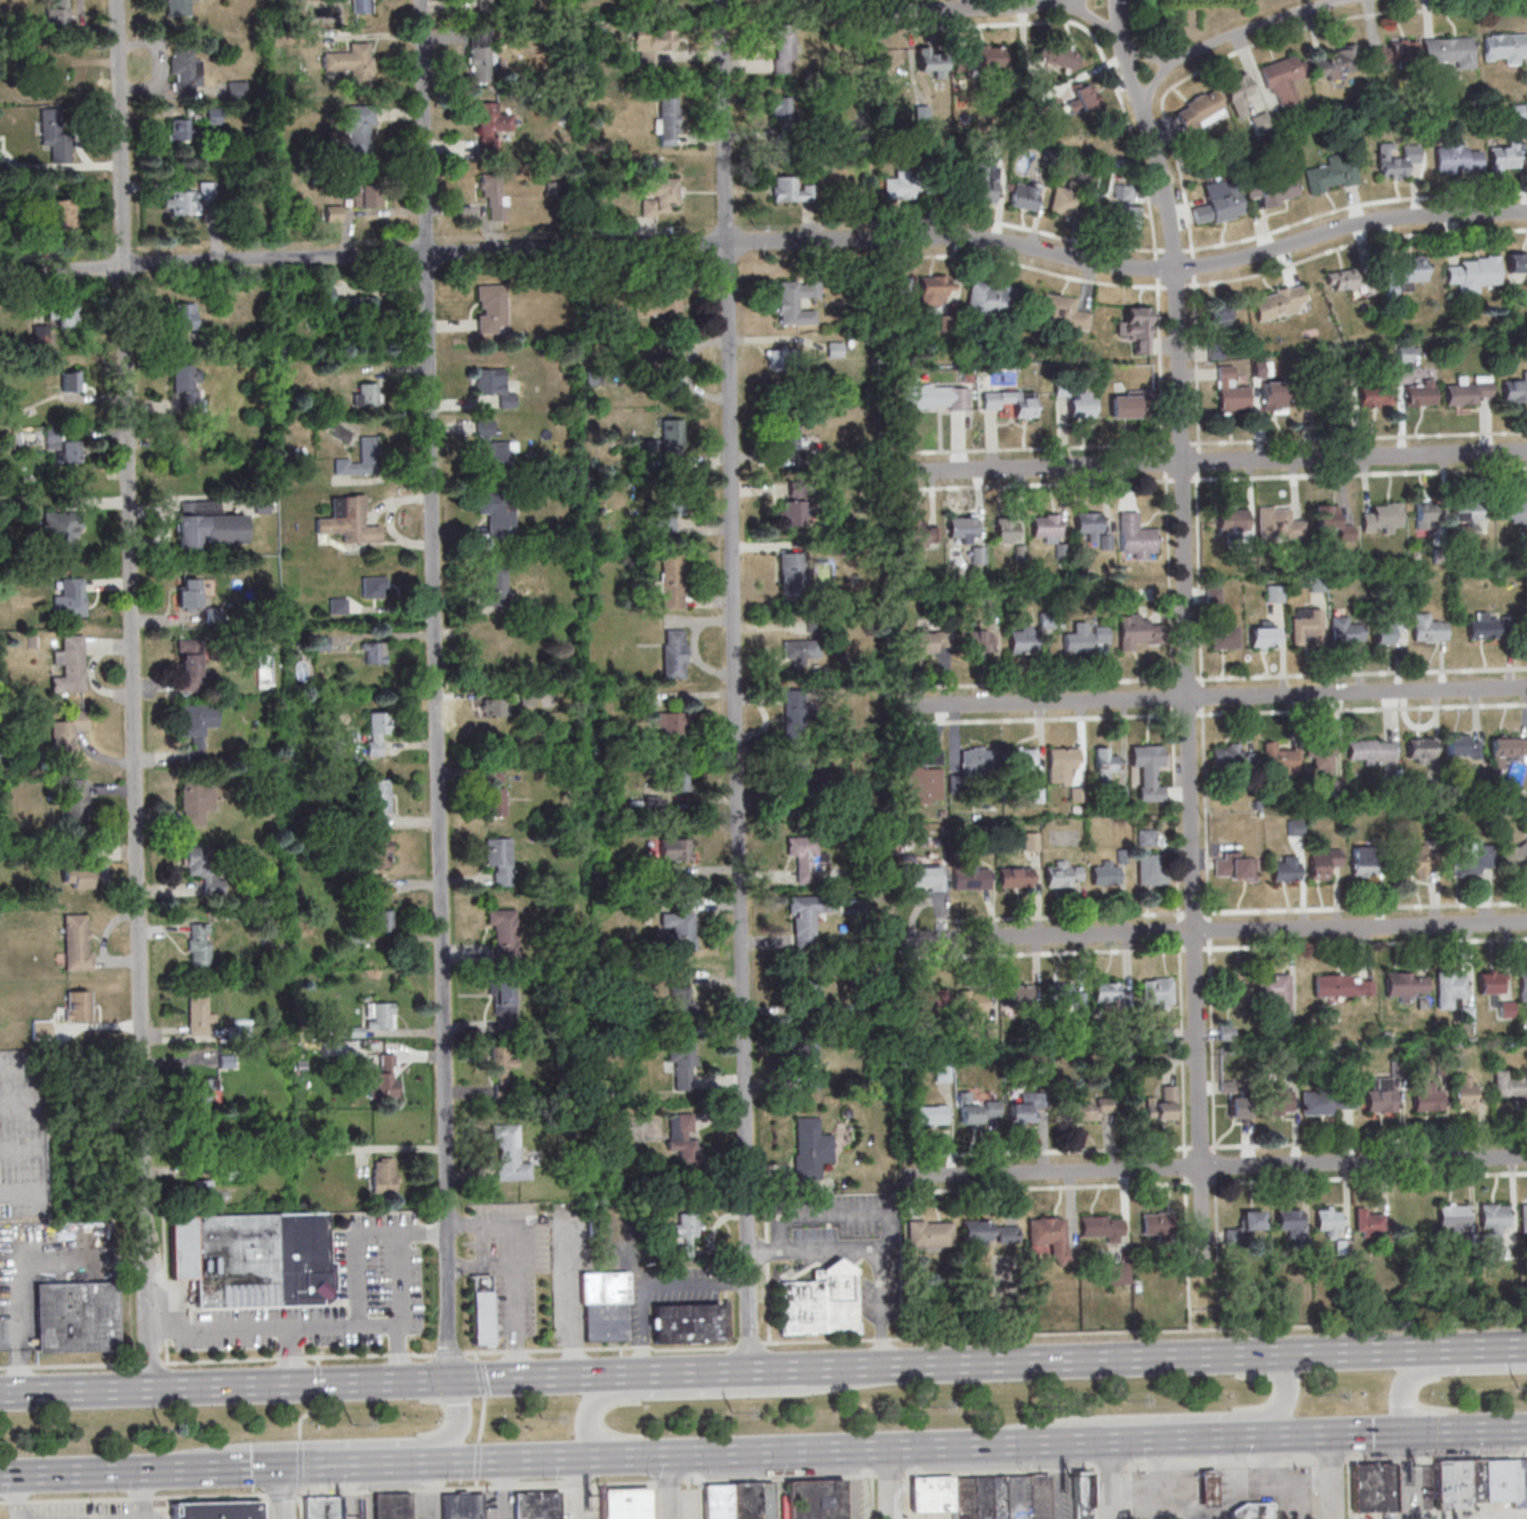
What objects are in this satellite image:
building: (362, 4)
road: (1004, 7)
building: (178, 8)
building: (58, 13)
road: (1229, 36)
building: (654, 45)
building: (1504, 47)
building: (784, 49)
building: (1449, 51)
building: (482, 54)
building: (1394, 54)
building: (1054, 55)
building: (989, 56)
building: (352, 61)
building: (932, 62)
building: (1335, 64)
building: (182, 69)
building: (59, 76)
building: (1283, 79)
building: (1238, 93)
building: (1083, 98)
building: (781, 108)
building: (1200, 109)
building: (1517, 113)
building: (667, 122)
building: (494, 126)
building: (179, 129)
building: (358, 132)
building: (58, 143)
building: (1503, 156)
building: (1458, 158)
building: (1396, 161)
building: (1332, 173)
building: (985, 185)
building: (900, 186)
building: (1273, 188)
building: (792, 190)
building: (362, 192)
building: (1123, 192)
building: (658, 195)
building: (1025, 195)
building: (495, 196)
building: (186, 199)
building: (1064, 200)
building: (1218, 203)
building: (62, 209)
building: (330, 212)
building: (1125, 216)
road: (767, 240)
building: (1516, 263)
building: (1413, 268)
building: (1472, 273)
building: (1342, 279)
building: (935, 289)
building: (901, 293)
building: (989, 299)
building: (795, 301)
building: (1277, 302)
building: (657, 303)
building: (491, 309)
building: (1063, 312)
building: (1219, 314)
building: (184, 315)
building: (61, 325)
building: (1137, 329)
building: (835, 349)
building: (786, 359)
building: (672, 375)
building: (71, 381)
building: (188, 384)
building: (494, 385)
building: (1515, 389)
building: (1468, 390)
building: (1230, 391)
building: (1419, 393)
building: (366, 394)
building: (1328, 395)
building: (1273, 396)
building: (932, 397)
building: (1374, 397)
building: (1011, 402)
building: (1081, 403)
building: (1125, 404)
building: (672, 436)
building: (790, 438)
building: (491, 446)
building: (67, 448)
building: (361, 458)
building: (192, 460)
road: (1211, 462)
building: (1466, 511)
building: (1513, 511)
building: (792, 513)
building: (496, 514)
building: (671, 514)
building: (1426, 515)
building: (1242, 518)
building: (1382, 518)
building: (1329, 519)
building: (349, 520)
building: (1278, 523)
building: (209, 524)
building: (1088, 525)
building: (1046, 526)
building: (962, 529)
building: (1006, 530)
building: (62, 532)
building: (918, 534)
building: (1136, 537)
building: (792, 574)
road: (1184, 579)
building: (672, 582)
building: (1317, 583)
building: (374, 586)
building: (495, 586)
building: (190, 592)
building: (1274, 593)
building: (1213, 594)
building: (71, 598)
building: (1305, 625)
building: (1482, 626)
building: (1427, 628)
building: (1384, 629)
building: (1344, 630)
building: (1137, 631)
building: (1084, 636)
building: (1265, 636)
building: (1223, 637)
building: (1023, 640)
building: (980, 642)
building: (919, 643)
building: (801, 649)
building: (375, 652)
building: (674, 653)
building: (191, 664)
building: (70, 665)
road: (735, 684)
road: (434, 689)
road: (131, 694)
road: (1215, 696)
building: (527, 697)
building: (495, 707)
building: (795, 714)
building: (670, 722)
building: (197, 724)
building: (377, 731)
building: (66, 734)
building: (1460, 747)
building: (1420, 749)
building: (1506, 749)
building: (1369, 750)
building: (1231, 757)
building: (1279, 758)
building: (1323, 759)
building: (976, 760)
building: (1023, 760)
building: (1061, 764)
building: (1104, 764)
building: (1148, 770)
building: (801, 777)
building: (675, 778)
building: (923, 778)
building: (494, 791)
building: (77, 801)
building: (195, 802)
building: (380, 802)
building: (1294, 827)
building: (1147, 837)
building: (1030, 841)
building: (675, 848)
building: (378, 854)
building: (807, 855)
building: (1514, 856)
building: (499, 859)
building: (1470, 859)
building: (1363, 861)
building: (1413, 861)
building: (1322, 862)
building: (1234, 866)
building: (1284, 868)
building: (204, 869)
building: (1151, 869)
building: (1105, 872)
building: (1063, 874)
building: (970, 876)
building: (76, 877)
building: (1014, 877)
building: (926, 878)
building: (807, 917)
building: (383, 920)
building: (679, 924)
road: (1216, 930)
building: (503, 932)
building: (77, 942)
building: (199, 944)
building: (1404, 984)
building: (1522, 984)
building: (1342, 985)
building: (1450, 989)
building: (1275, 990)
building: (1105, 991)
building: (1157, 991)
building: (1494, 991)
building: (806, 992)
building: (1016, 995)
building: (1063, 996)
building: (504, 997)
building: (925, 999)
building: (971, 999)
building: (680, 1000)
building: (77, 1005)
building: (199, 1014)
building: (382, 1015)
building: (40, 1029)
building: (239, 1032)
building: (1163, 1034)
building: (682, 1061)
building: (805, 1064)
building: (503, 1069)
building: (942, 1073)
building: (383, 1078)
building: (1509, 1087)
building: (204, 1088)
building: (1464, 1091)
building: (1380, 1094)
building: (1426, 1097)
building: (1280, 1099)
building: (1325, 1101)
building: (1163, 1103)
building: (1238, 1106)
building: (1026, 1107)
building: (1088, 1110)
building: (977, 1111)
building: (933, 1114)
building: (682, 1136)
building: (810, 1148)
building: (510, 1154)
road: (1217, 1165)
building: (384, 1175)
building: (202, 1188)
road: (832, 1213)
building: (1453, 1215)
building: (1523, 1218)
road: (1199, 1219)
building: (1251, 1220)
building: (1328, 1221)
building: (1288, 1222)
building: (1368, 1222)
building: (1154, 1224)
building: (1492, 1226)
building: (1102, 1227)
building: (686, 1230)
building: (988, 1231)
building: (929, 1233)
building: (1049, 1236)
building: (1341, 1246)
road: (872, 1247)
road: (357, 1257)
building: (254, 1260)
road: (525, 1264)
road: (480, 1265)
road: (766, 1271)
road: (649, 1284)
building: (820, 1301)
building: (605, 1306)
building: (481, 1311)
building: (76, 1316)
road: (339, 1321)
building: (686, 1323)
road: (1144, 1331)
road: (747, 1344)
road: (599, 1347)
road: (1450, 1348)
road: (400, 1350)
road: (448, 1352)
road: (286, 1353)
road: (298, 1356)
road: (1101, 1358)
road: (148, 1362)
road: (66, 1366)
road: (737, 1369)
road: (1437, 1369)
traffic signals: (446, 1380)
road: (323, 1382)
power tower: (1517, 1388)
road: (713, 1391)
power tower: (1323, 1391)
road: (1284, 1395)
road: (482, 1397)
power tower: (1122, 1400)
power tower: (926, 1404)
power tower: (731, 1413)
power tower: (540, 1415)
road: (300, 1417)
road: (456, 1421)
power tower: (349, 1422)
power tower: (162, 1430)
road: (1399, 1431)
traffic signals: (1399, 1432)
road: (1186, 1438)
road: (1043, 1443)
road: (814, 1450)
road: (541, 1458)
road: (475, 1461)
road: (376, 1463)
road: (236, 1468)
traffic signals: (249, 1468)
road: (1103, 1469)
road: (78, 1472)
road: (1400, 1475)
road: (1328, 1476)
road: (1109, 1479)
road: (1052, 1480)
building: (1487, 1480)
building: (1501, 1480)
road: (1275, 1481)
building: (1473, 1481)
road: (666, 1482)
road: (475, 1483)
road: (849, 1483)
road: (887, 1483)
building: (1517, 1483)
building: (1449, 1485)
road: (476, 1486)
road: (666, 1487)
building: (1370, 1488)
road: (299, 1489)
road: (499, 1489)
road: (1154, 1489)
building: (1204, 1489)
road: (1346, 1489)
road: (430, 1490)
road: (1313, 1490)
road: (283, 1492)
road: (347, 1492)
road: (281, 1493)
road: (1125, 1493)
building: (928, 1494)
road: (139, 1495)
building: (1078, 1496)
road: (870, 1497)
building: (1013, 1497)
building: (1035, 1497)
building: (979, 1498)
building: (994, 1498)
road: (134, 1499)
building: (960, 1499)
traffic signals: (282, 1500)
road: (687, 1500)
building: (812, 1500)
road: (648, 1501)
building: (741, 1501)
building: (762, 1501)
building: (714, 1502)
building: (621, 1504)
building: (534, 1505)
road: (264, 1506)
road: (299, 1506)
building: (390, 1506)
building: (459, 1506)
building: (320, 1509)
road: (19, 1510)
parking lot: (83, 1510)
building: (217, 1510)
road: (1213, 1511)
building: (1252, 1512)

